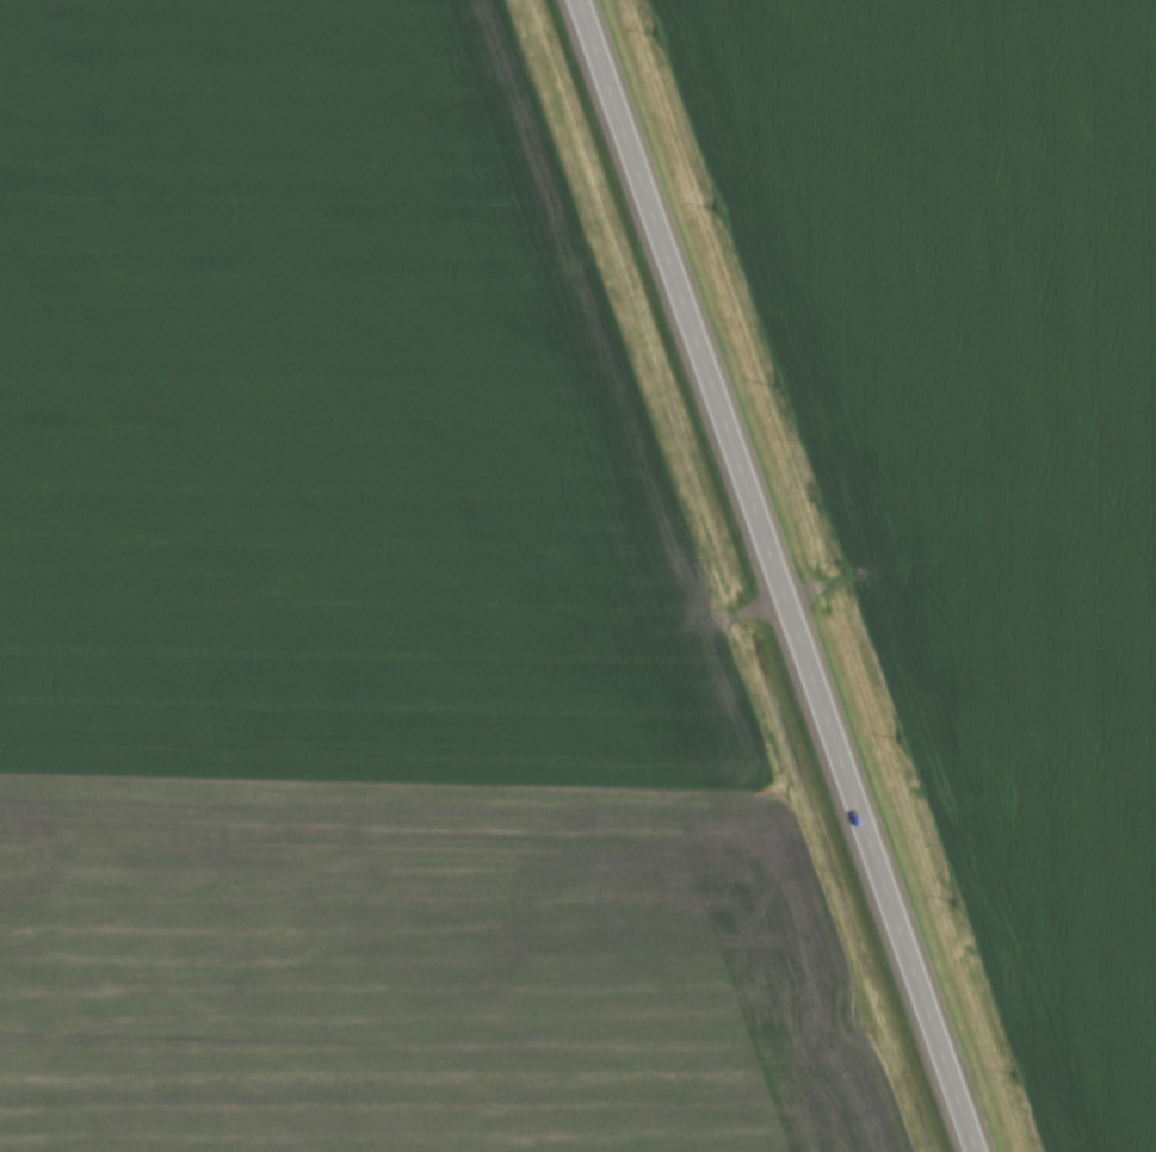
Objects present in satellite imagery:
road: (775, 575)

